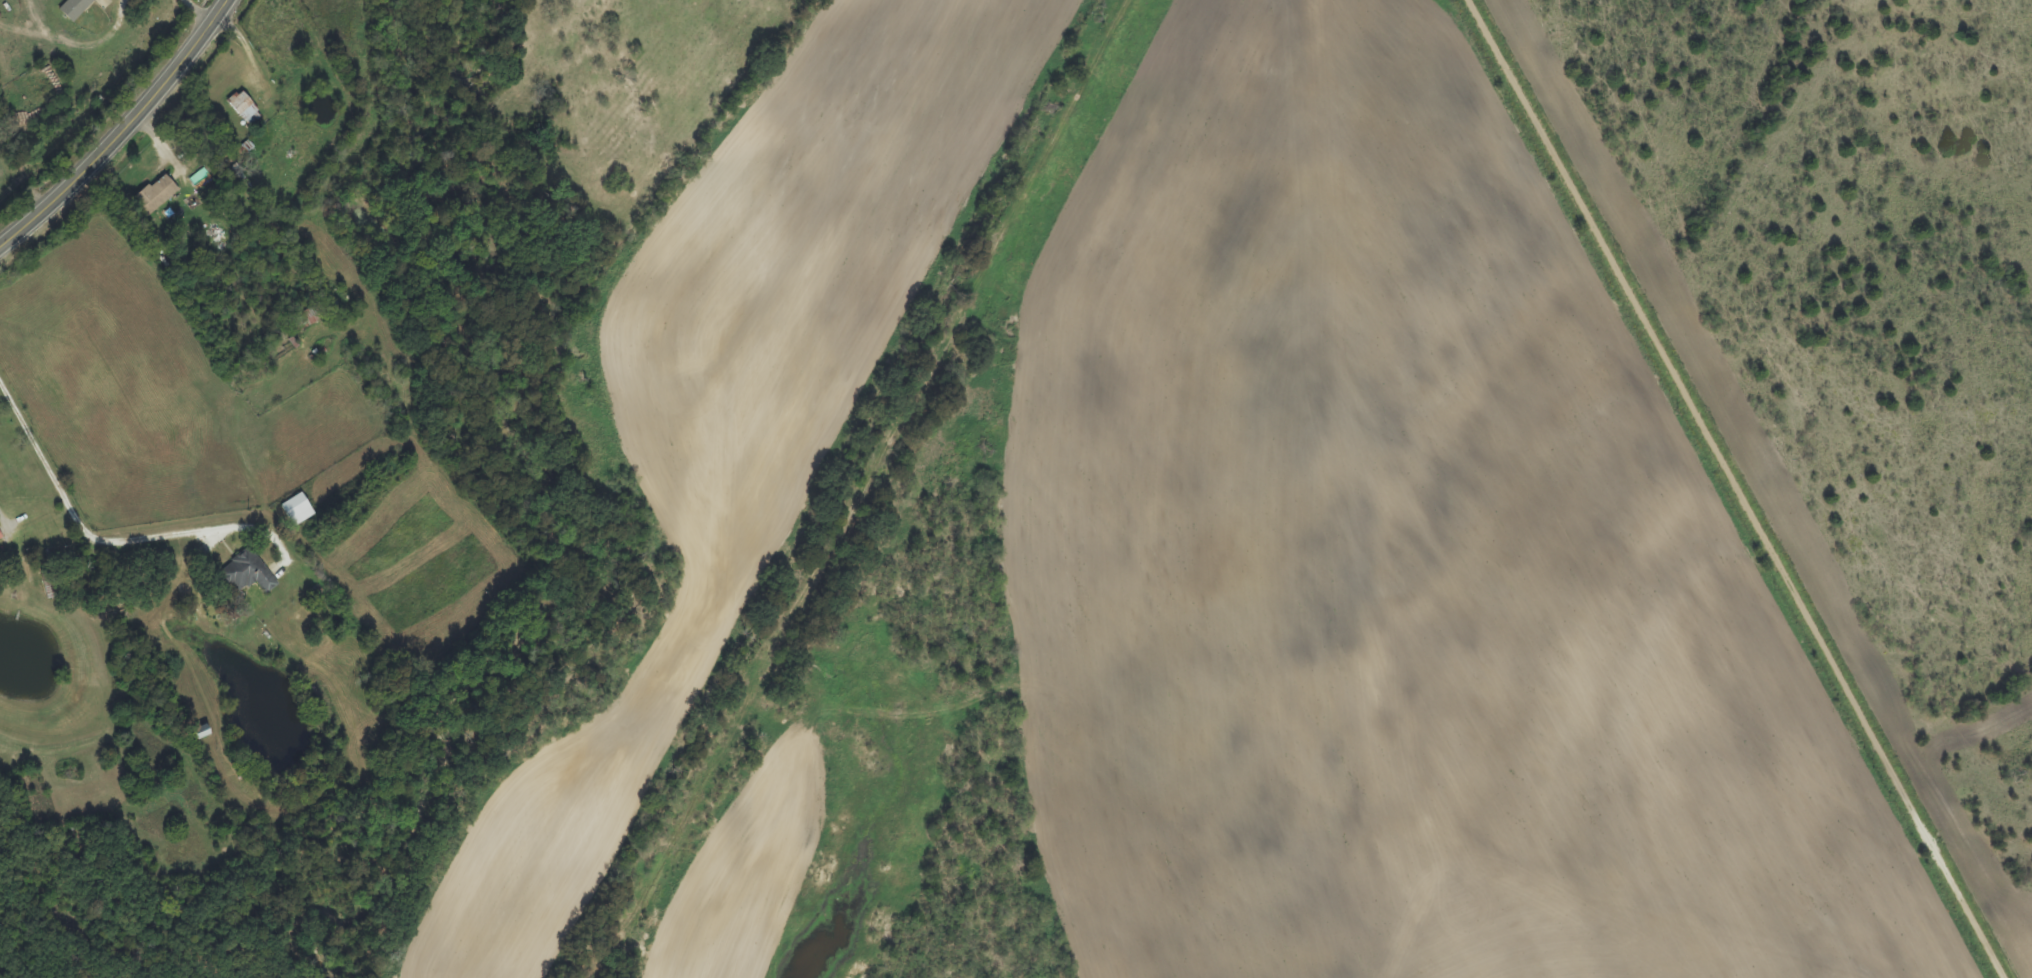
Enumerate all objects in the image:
building: (75, 9)
building: (245, 109)
road: (121, 130)
building: (155, 196)
building: (307, 319)
railway: (858, 487)
road: (1742, 488)
building: (298, 510)
building: (1, 537)
building: (247, 574)

